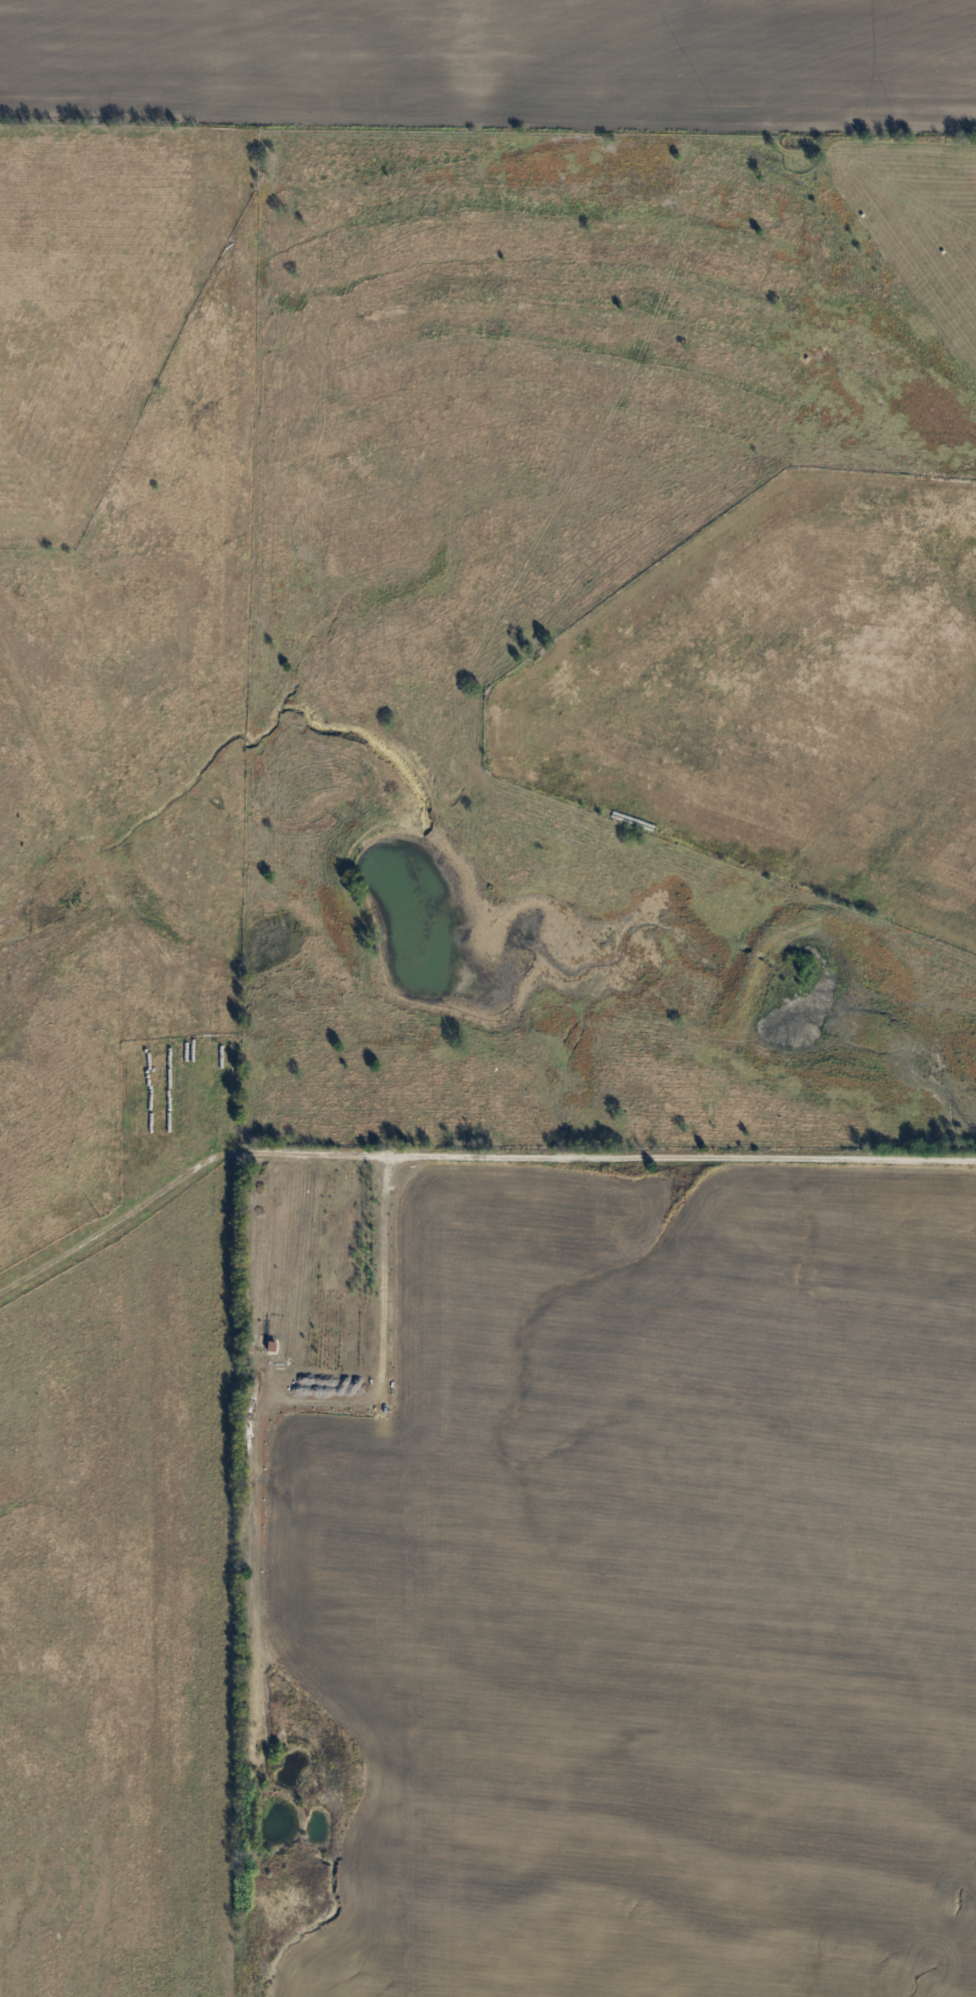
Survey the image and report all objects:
road: (467, 1154)

